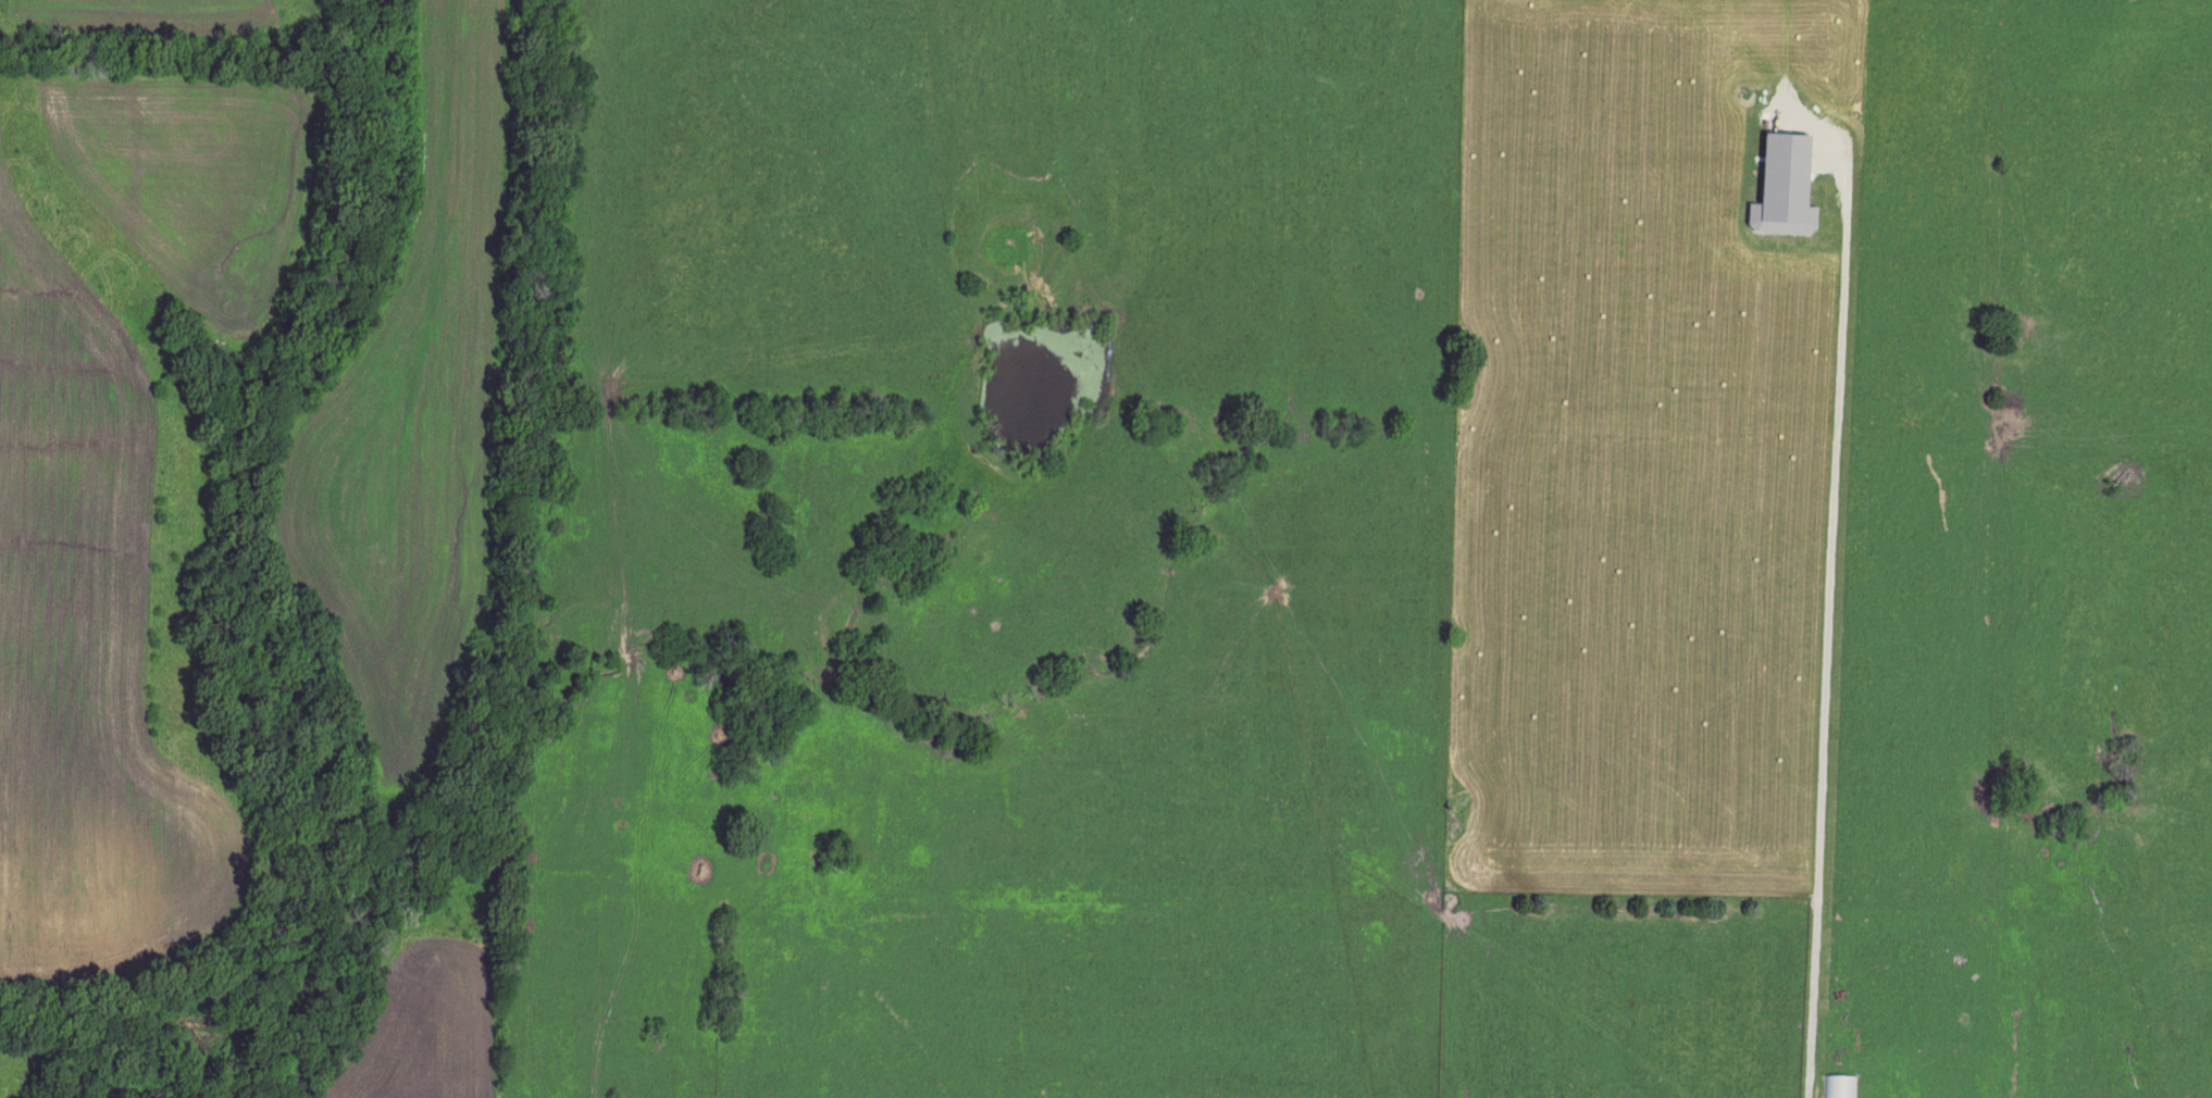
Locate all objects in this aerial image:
building: (1838, 1087)

